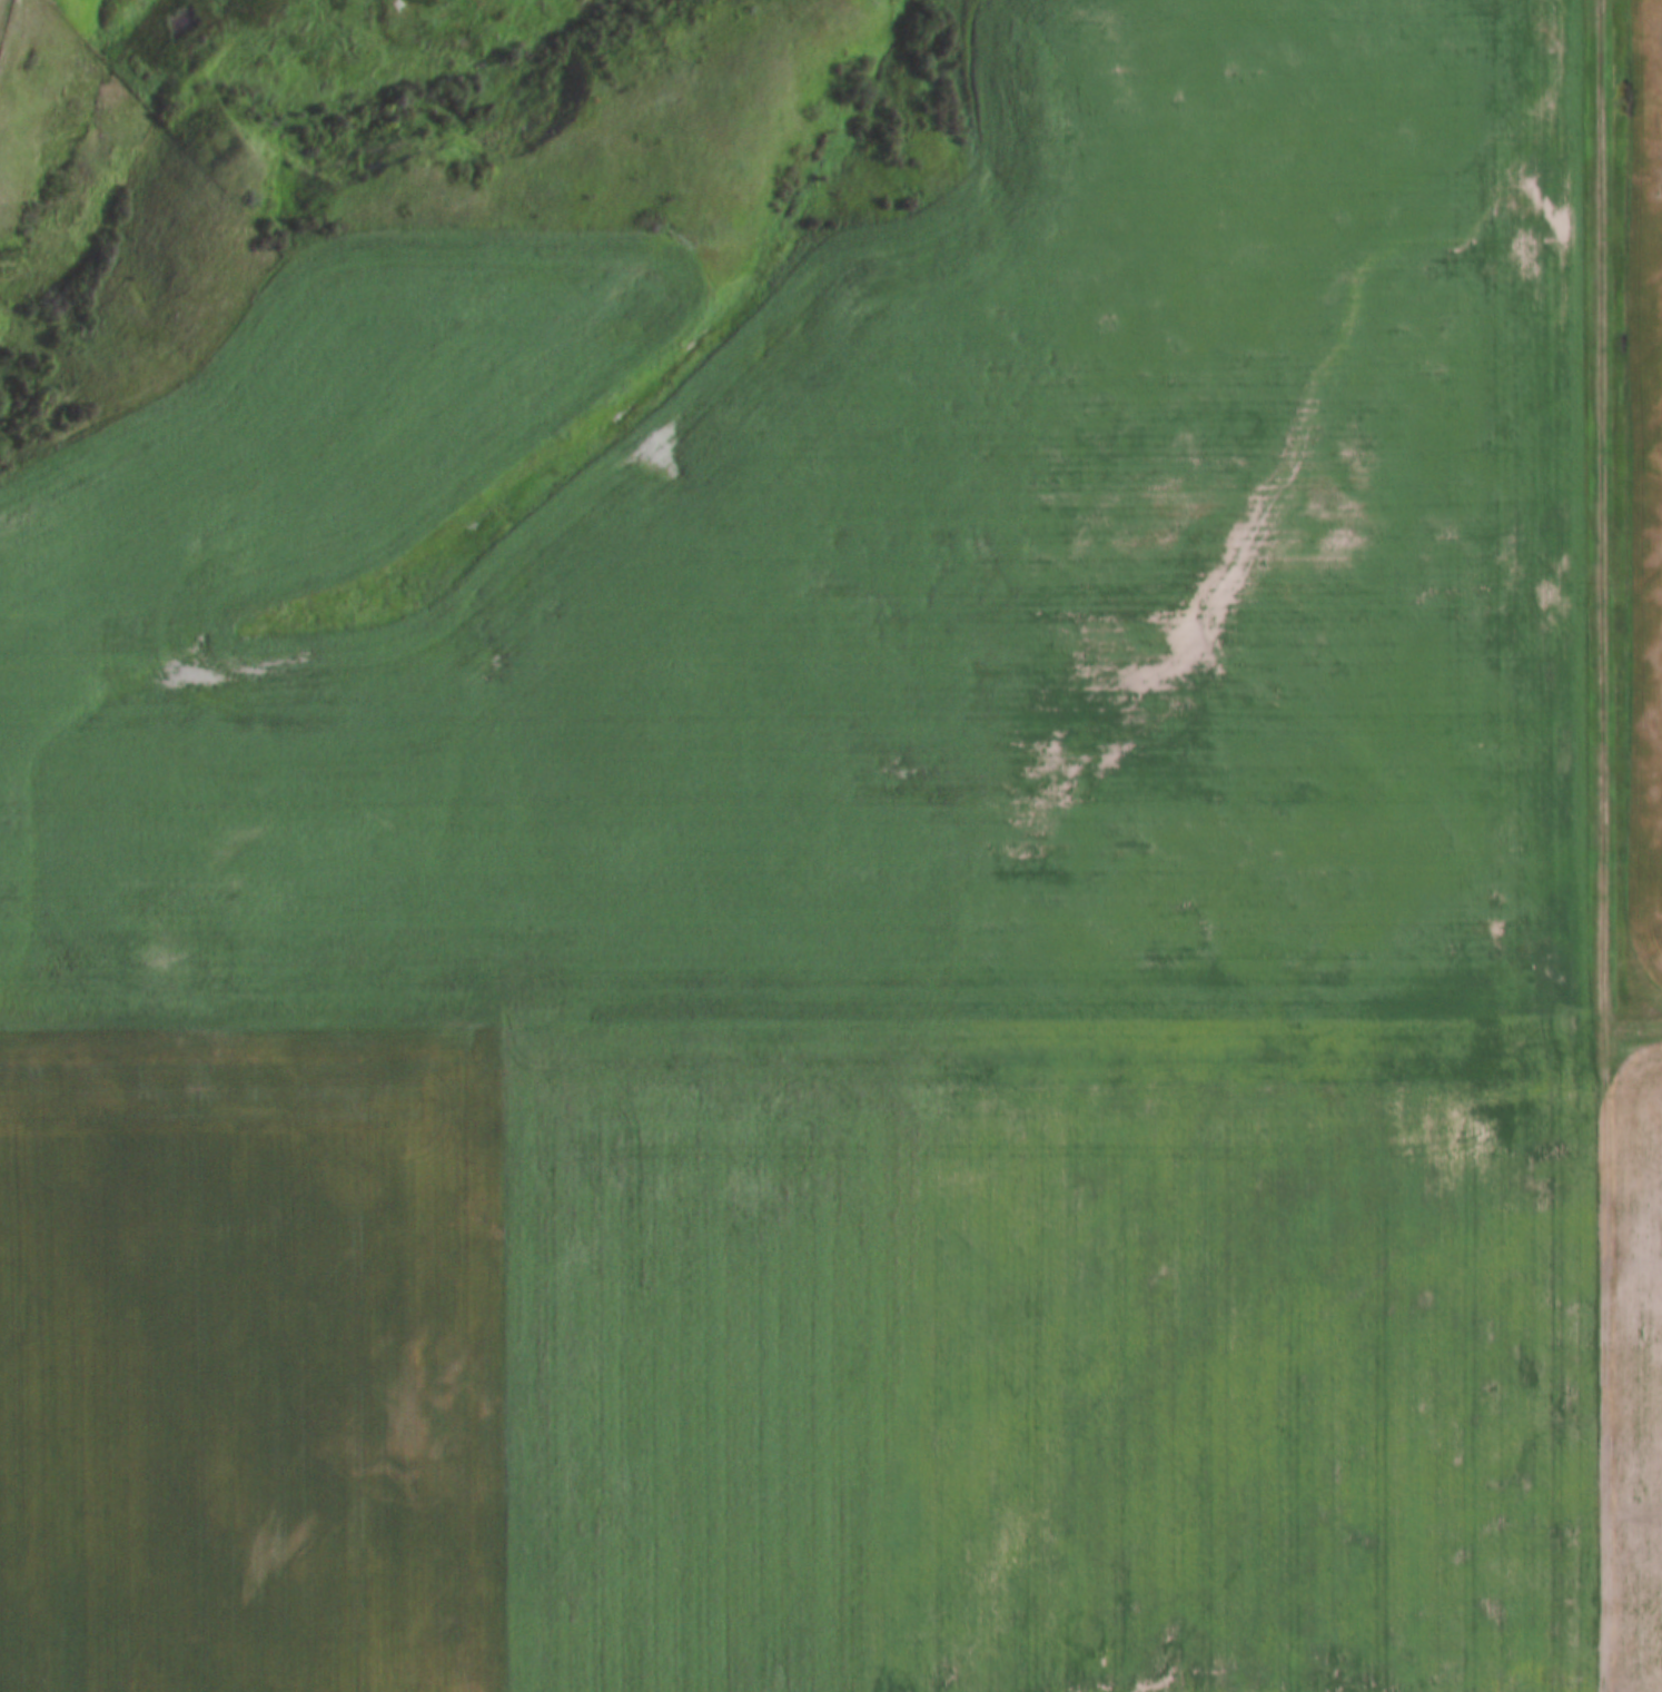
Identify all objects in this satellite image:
road: (1611, 845)
road: (831, 1053)

